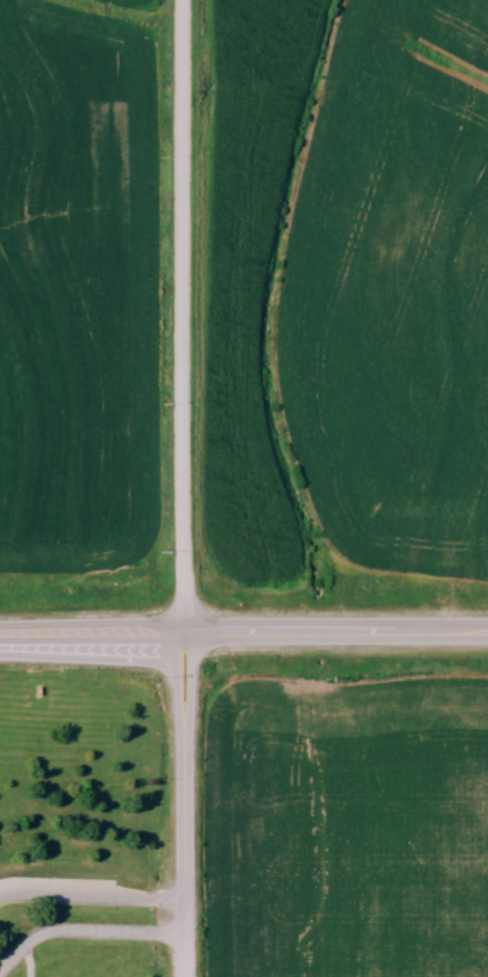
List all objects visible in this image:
road: (183, 318)
road: (244, 635)
road: (185, 806)
road: (92, 900)
road: (84, 931)

